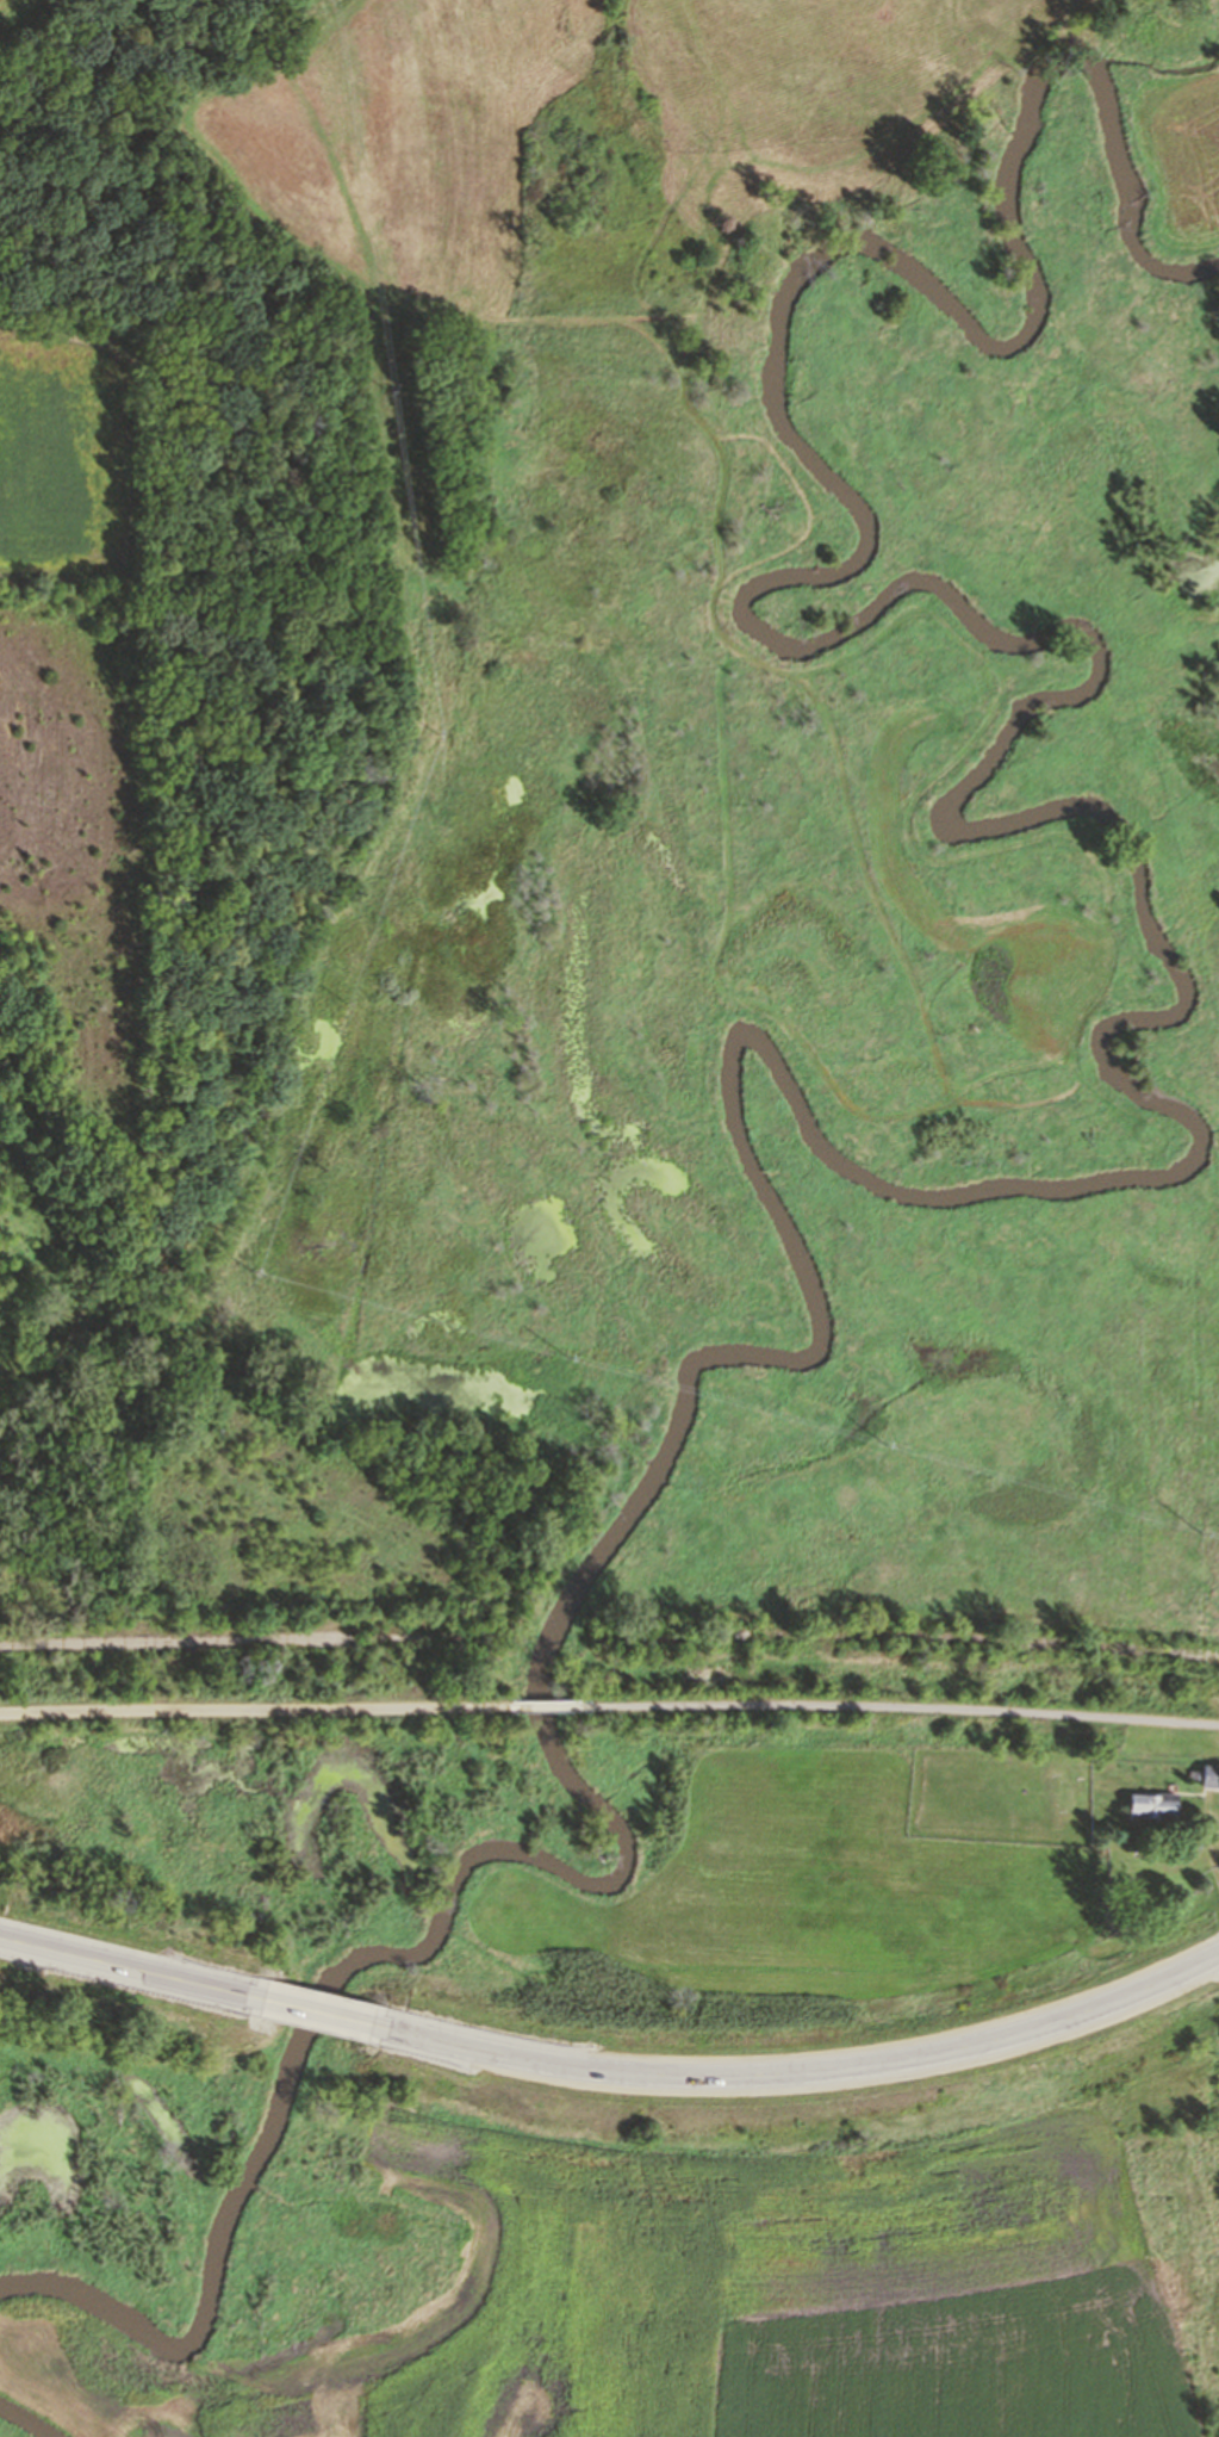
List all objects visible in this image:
road: (169, 1641)
road: (934, 1642)
road: (548, 1706)
road: (904, 1710)
road: (253, 1713)
building: (1207, 1774)
building: (1153, 1811)
road: (1218, 1838)
road: (128, 1972)
road: (321, 2016)
road: (808, 2070)

